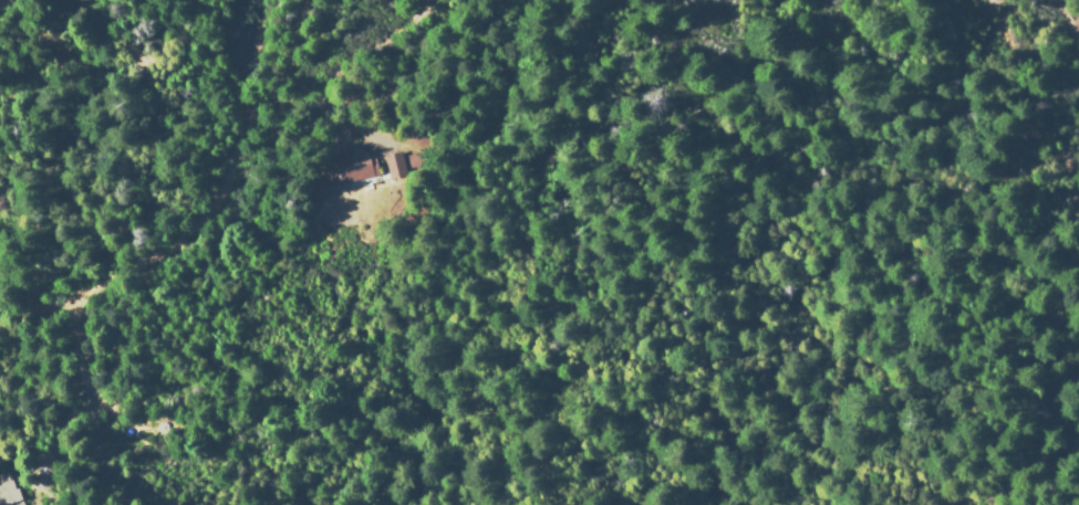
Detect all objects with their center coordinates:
building: (393, 164)
building: (359, 168)
road: (160, 251)
building: (9, 494)

